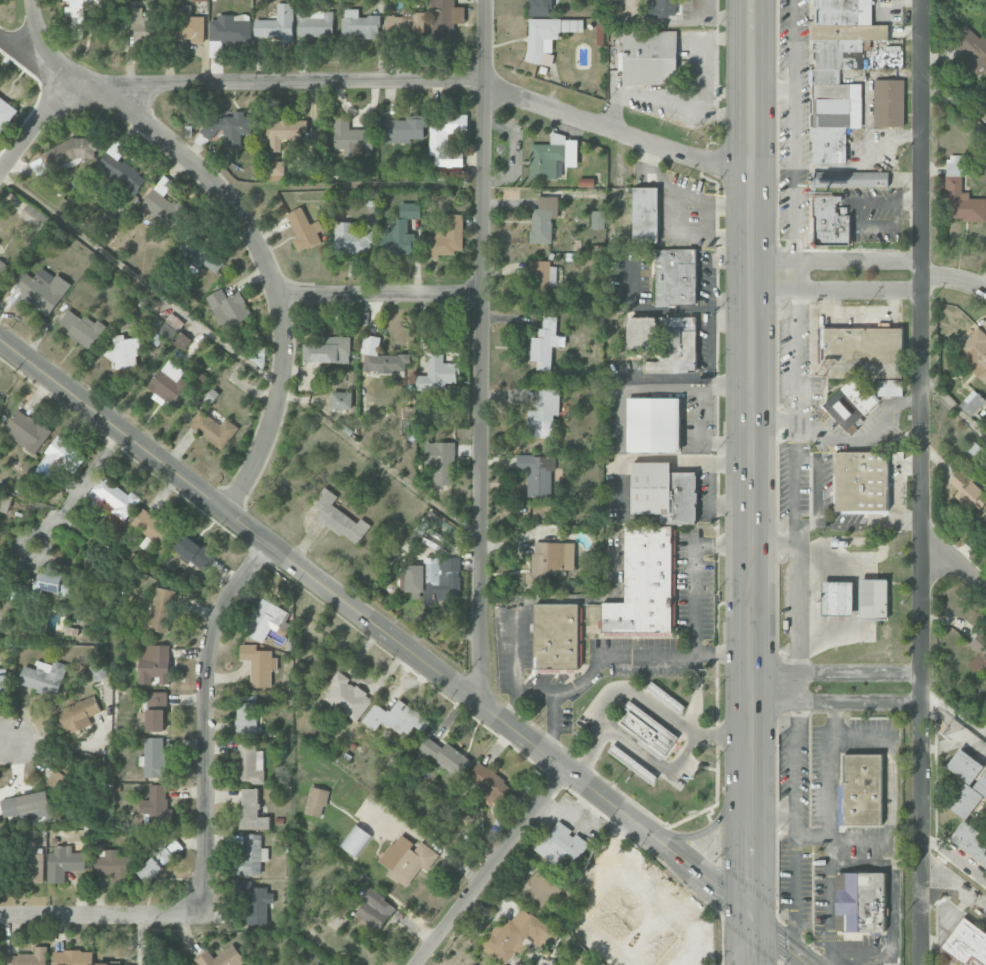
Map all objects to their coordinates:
building: (200, 0)
road: (893, 1)
building: (540, 7)
building: (662, 9)
building: (81, 14)
building: (445, 18)
building: (315, 23)
building: (277, 24)
building: (359, 24)
building: (406, 24)
building: (188, 26)
building: (229, 29)
road: (36, 33)
building: (547, 35)
building: (215, 49)
building: (973, 50)
building: (649, 57)
building: (547, 59)
building: (837, 73)
road: (870, 79)
road: (378, 80)
road: (773, 88)
building: (889, 103)
road: (953, 103)
building: (983, 105)
building: (6, 113)
road: (36, 128)
building: (405, 129)
building: (286, 131)
road: (898, 134)
building: (351, 136)
road: (794, 137)
building: (446, 139)
building: (68, 152)
building: (552, 157)
building: (276, 171)
building: (120, 172)
building: (850, 179)
building: (961, 195)
road: (910, 201)
building: (410, 210)
building: (645, 214)
building: (33, 217)
building: (543, 219)
building: (598, 219)
building: (829, 222)
road: (858, 224)
building: (304, 230)
building: (397, 238)
building: (447, 238)
building: (351, 239)
building: (200, 255)
road: (729, 259)
road: (265, 260)
building: (3, 268)
road: (869, 275)
building: (676, 277)
building: (22, 280)
road: (709, 286)
building: (45, 290)
road: (381, 295)
building: (228, 308)
road: (669, 310)
building: (82, 328)
building: (182, 341)
building: (665, 341)
building: (544, 344)
road: (795, 346)
building: (328, 350)
building: (975, 351)
building: (123, 352)
road: (482, 352)
building: (381, 358)
road: (238, 361)
building: (437, 374)
building: (168, 383)
building: (890, 388)
road: (658, 391)
building: (341, 400)
building: (972, 402)
road: (954, 405)
building: (544, 412)
building: (653, 424)
building: (213, 429)
building: (26, 431)
road: (867, 437)
road: (700, 443)
road: (795, 458)
building: (57, 459)
building: (537, 474)
road: (819, 478)
building: (861, 481)
road: (749, 482)
road: (923, 482)
road: (78, 487)
building: (967, 490)
road: (897, 495)
building: (113, 497)
building: (339, 518)
building: (983, 521)
road: (807, 524)
road: (859, 525)
building: (154, 527)
building: (652, 550)
building: (194, 552)
road: (955, 556)
building: (549, 562)
road: (695, 573)
building: (434, 578)
building: (52, 584)
road: (799, 590)
building: (838, 598)
building: (873, 598)
road: (530, 600)
building: (160, 611)
building: (265, 620)
building: (556, 636)
road: (407, 649)
road: (643, 654)
building: (979, 654)
building: (154, 663)
building: (258, 664)
building: (98, 671)
building: (43, 677)
building: (3, 681)
road: (835, 687)
road: (635, 692)
road: (695, 694)
building: (348, 697)
building: (665, 698)
road: (553, 705)
building: (156, 711)
building: (78, 714)
road: (953, 715)
building: (396, 718)
road: (205, 719)
building: (246, 719)
road: (956, 724)
road: (981, 727)
building: (647, 730)
road: (795, 753)
building: (446, 756)
building: (154, 758)
building: (249, 762)
road: (654, 762)
road: (831, 762)
building: (964, 766)
building: (61, 780)
building: (981, 784)
building: (491, 785)
building: (861, 789)
building: (316, 801)
building: (965, 801)
building: (25, 807)
building: (156, 807)
building: (252, 811)
road: (827, 838)
building: (355, 840)
building: (970, 841)
building: (561, 845)
building: (249, 854)
road: (956, 856)
building: (407, 859)
building: (63, 862)
building: (158, 862)
building: (113, 865)
road: (909, 865)
road: (489, 866)
building: (35, 868)
road: (954, 884)
road: (791, 892)
building: (539, 893)
road: (829, 897)
building: (860, 902)
building: (257, 903)
building: (374, 909)
road: (103, 915)
traffic signals: (750, 918)
building: (633, 927)
road: (893, 931)
building: (516, 935)
building: (966, 942)
building: (72, 957)
building: (220, 957)
building: (27, 958)
road: (832, 959)
building: (125, 964)

